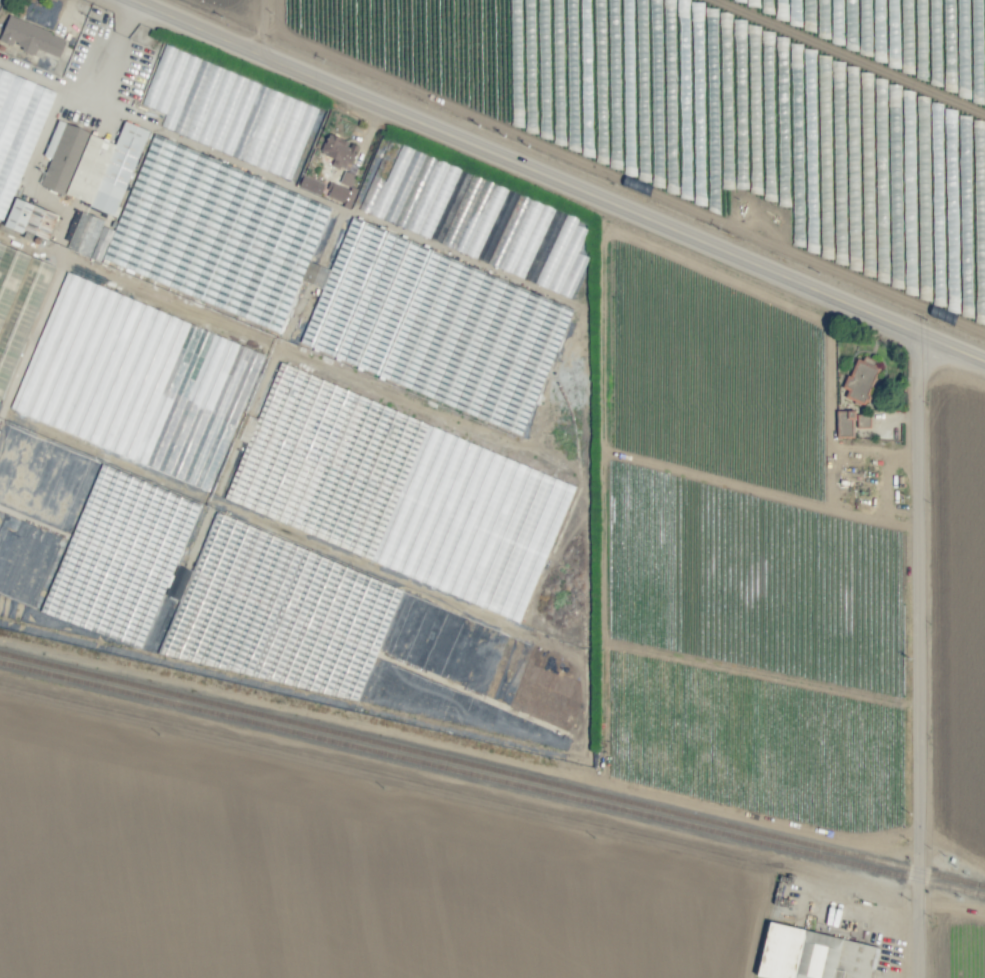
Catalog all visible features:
road: (263, 26)
building: (31, 37)
building: (18, 127)
building: (339, 152)
building: (91, 164)
road: (561, 180)
building: (310, 185)
building: (341, 190)
building: (33, 219)
building: (89, 236)
crop: (516, 377)
building: (861, 378)
building: (862, 420)
building: (845, 422)
road: (919, 656)
road: (460, 745)
railway: (492, 769)
railway: (492, 779)
crop: (363, 877)
crop: (967, 946)
building: (813, 955)

